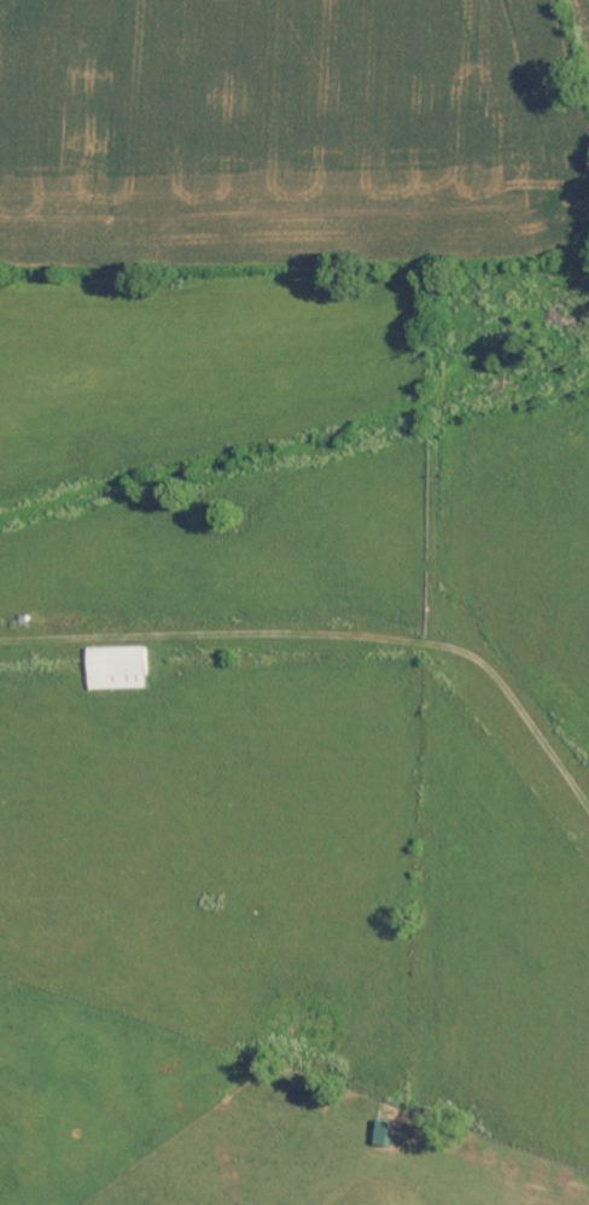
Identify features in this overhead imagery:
road: (377, 639)
building: (387, 1135)

